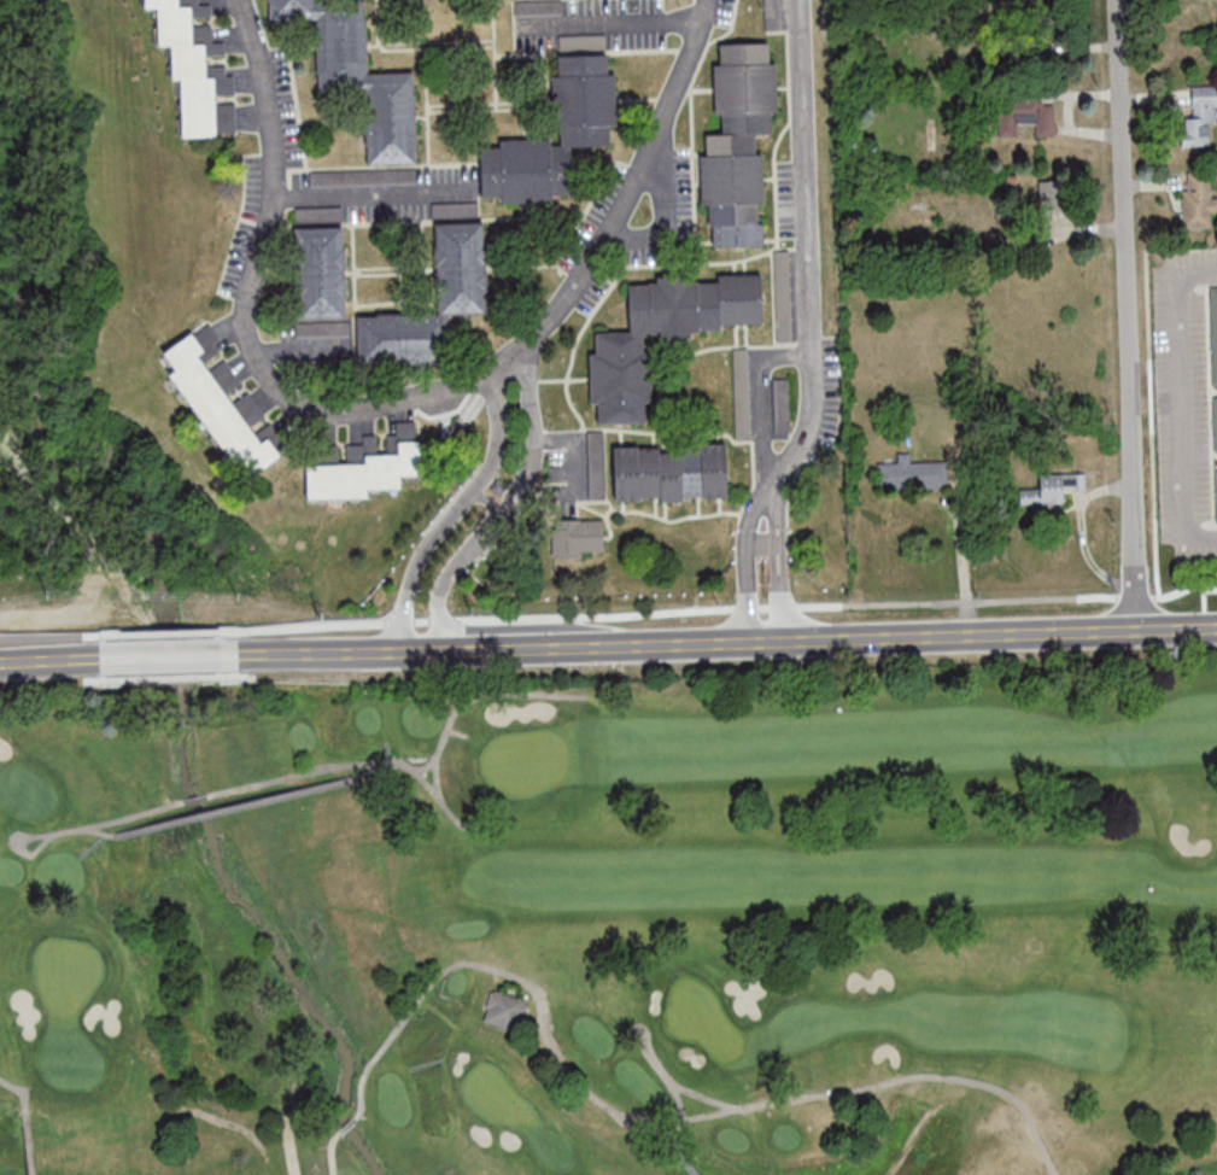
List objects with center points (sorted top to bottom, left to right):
road: (608, 22)
building: (194, 66)
building: (357, 74)
building: (585, 106)
building: (1025, 116)
building: (1201, 118)
building: (738, 142)
road: (371, 191)
road: (633, 193)
building: (1198, 201)
building: (461, 267)
road: (807, 269)
building: (320, 273)
road: (1125, 315)
road: (250, 317)
building: (1213, 334)
building: (622, 345)
building: (222, 404)
road: (1183, 404)
building: (1215, 422)
building: (365, 466)
building: (669, 473)
building: (907, 474)
building: (1053, 487)
building: (1216, 495)
road: (485, 508)
building: (577, 538)
road: (960, 566)
road: (767, 585)
road: (727, 607)
road: (168, 632)
road: (49, 635)
road: (753, 641)
road: (261, 655)
road: (172, 657)
road: (58, 662)
river: (179, 706)
park: (613, 926)
building: (504, 1010)

